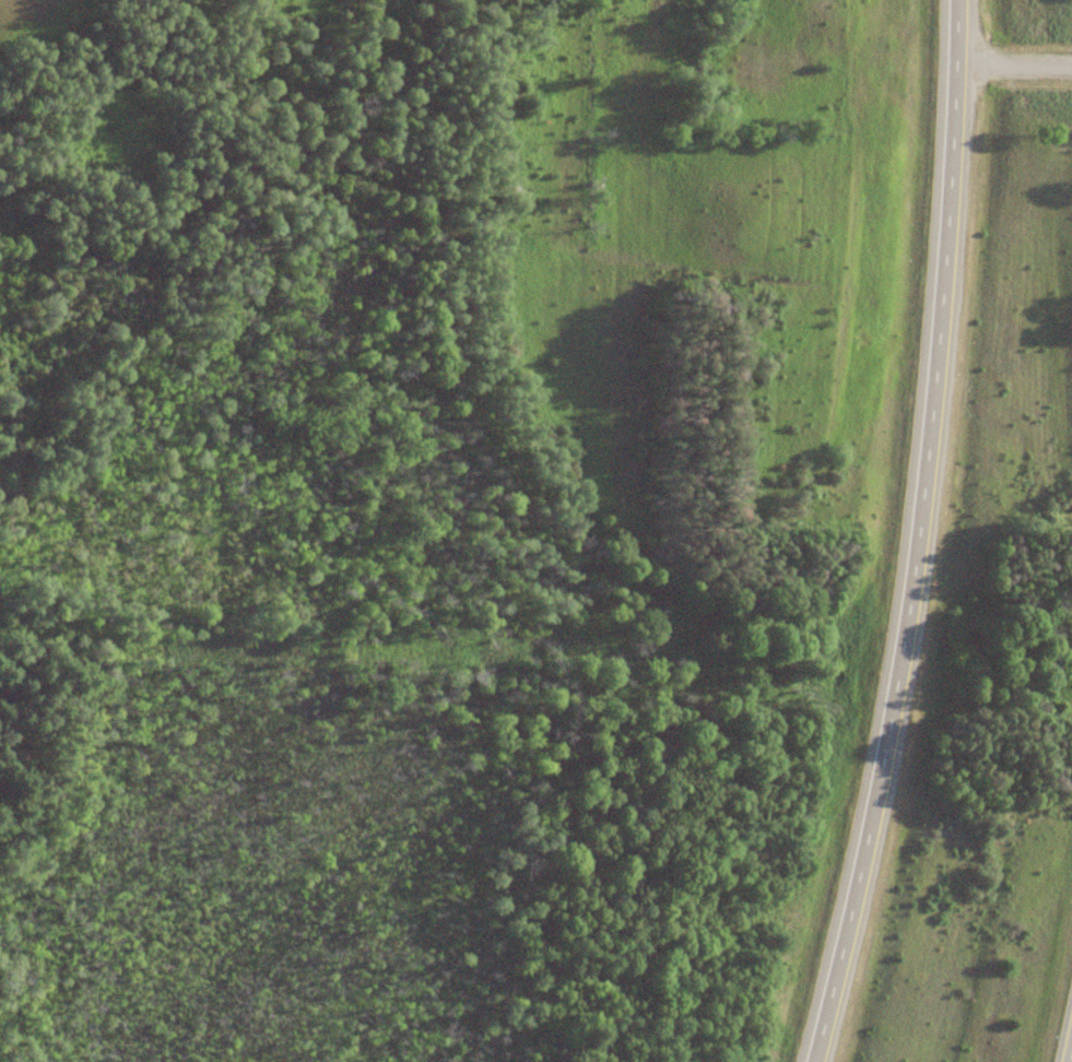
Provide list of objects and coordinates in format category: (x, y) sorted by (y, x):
road: (1013, 67)
road: (916, 534)
road: (1069, 1049)

